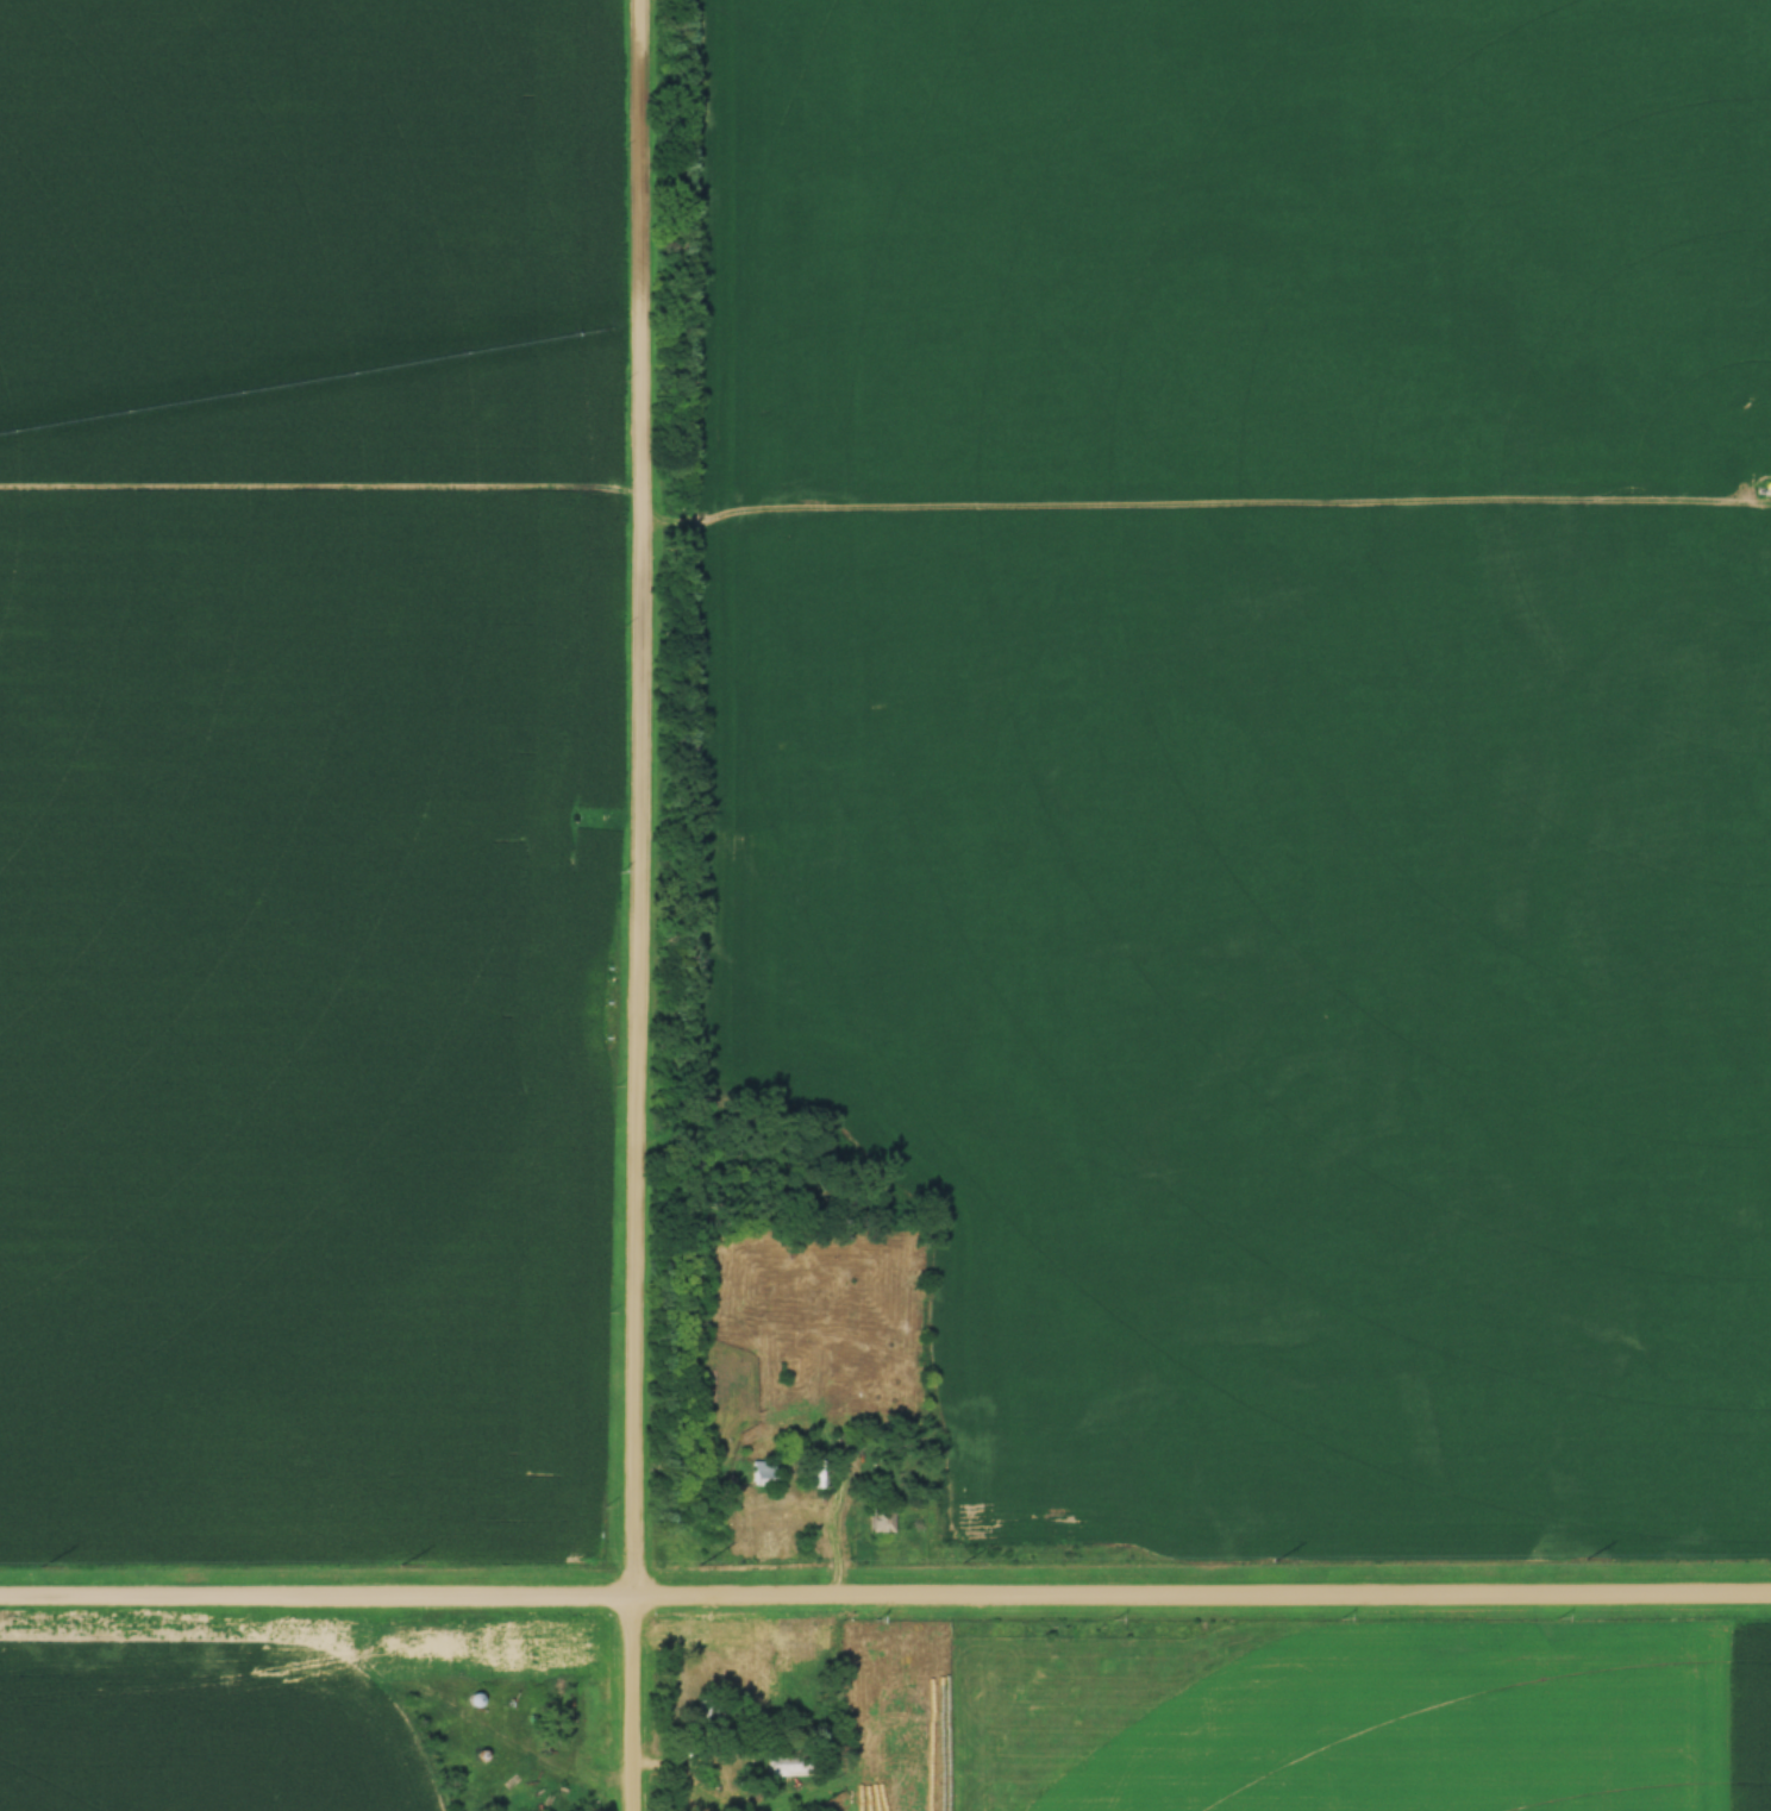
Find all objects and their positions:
building: (580, 816)
road: (644, 906)
road: (832, 1454)
building: (771, 1470)
building: (820, 1475)
building: (884, 1517)
road: (840, 1566)
road: (885, 1603)
building: (797, 1761)

